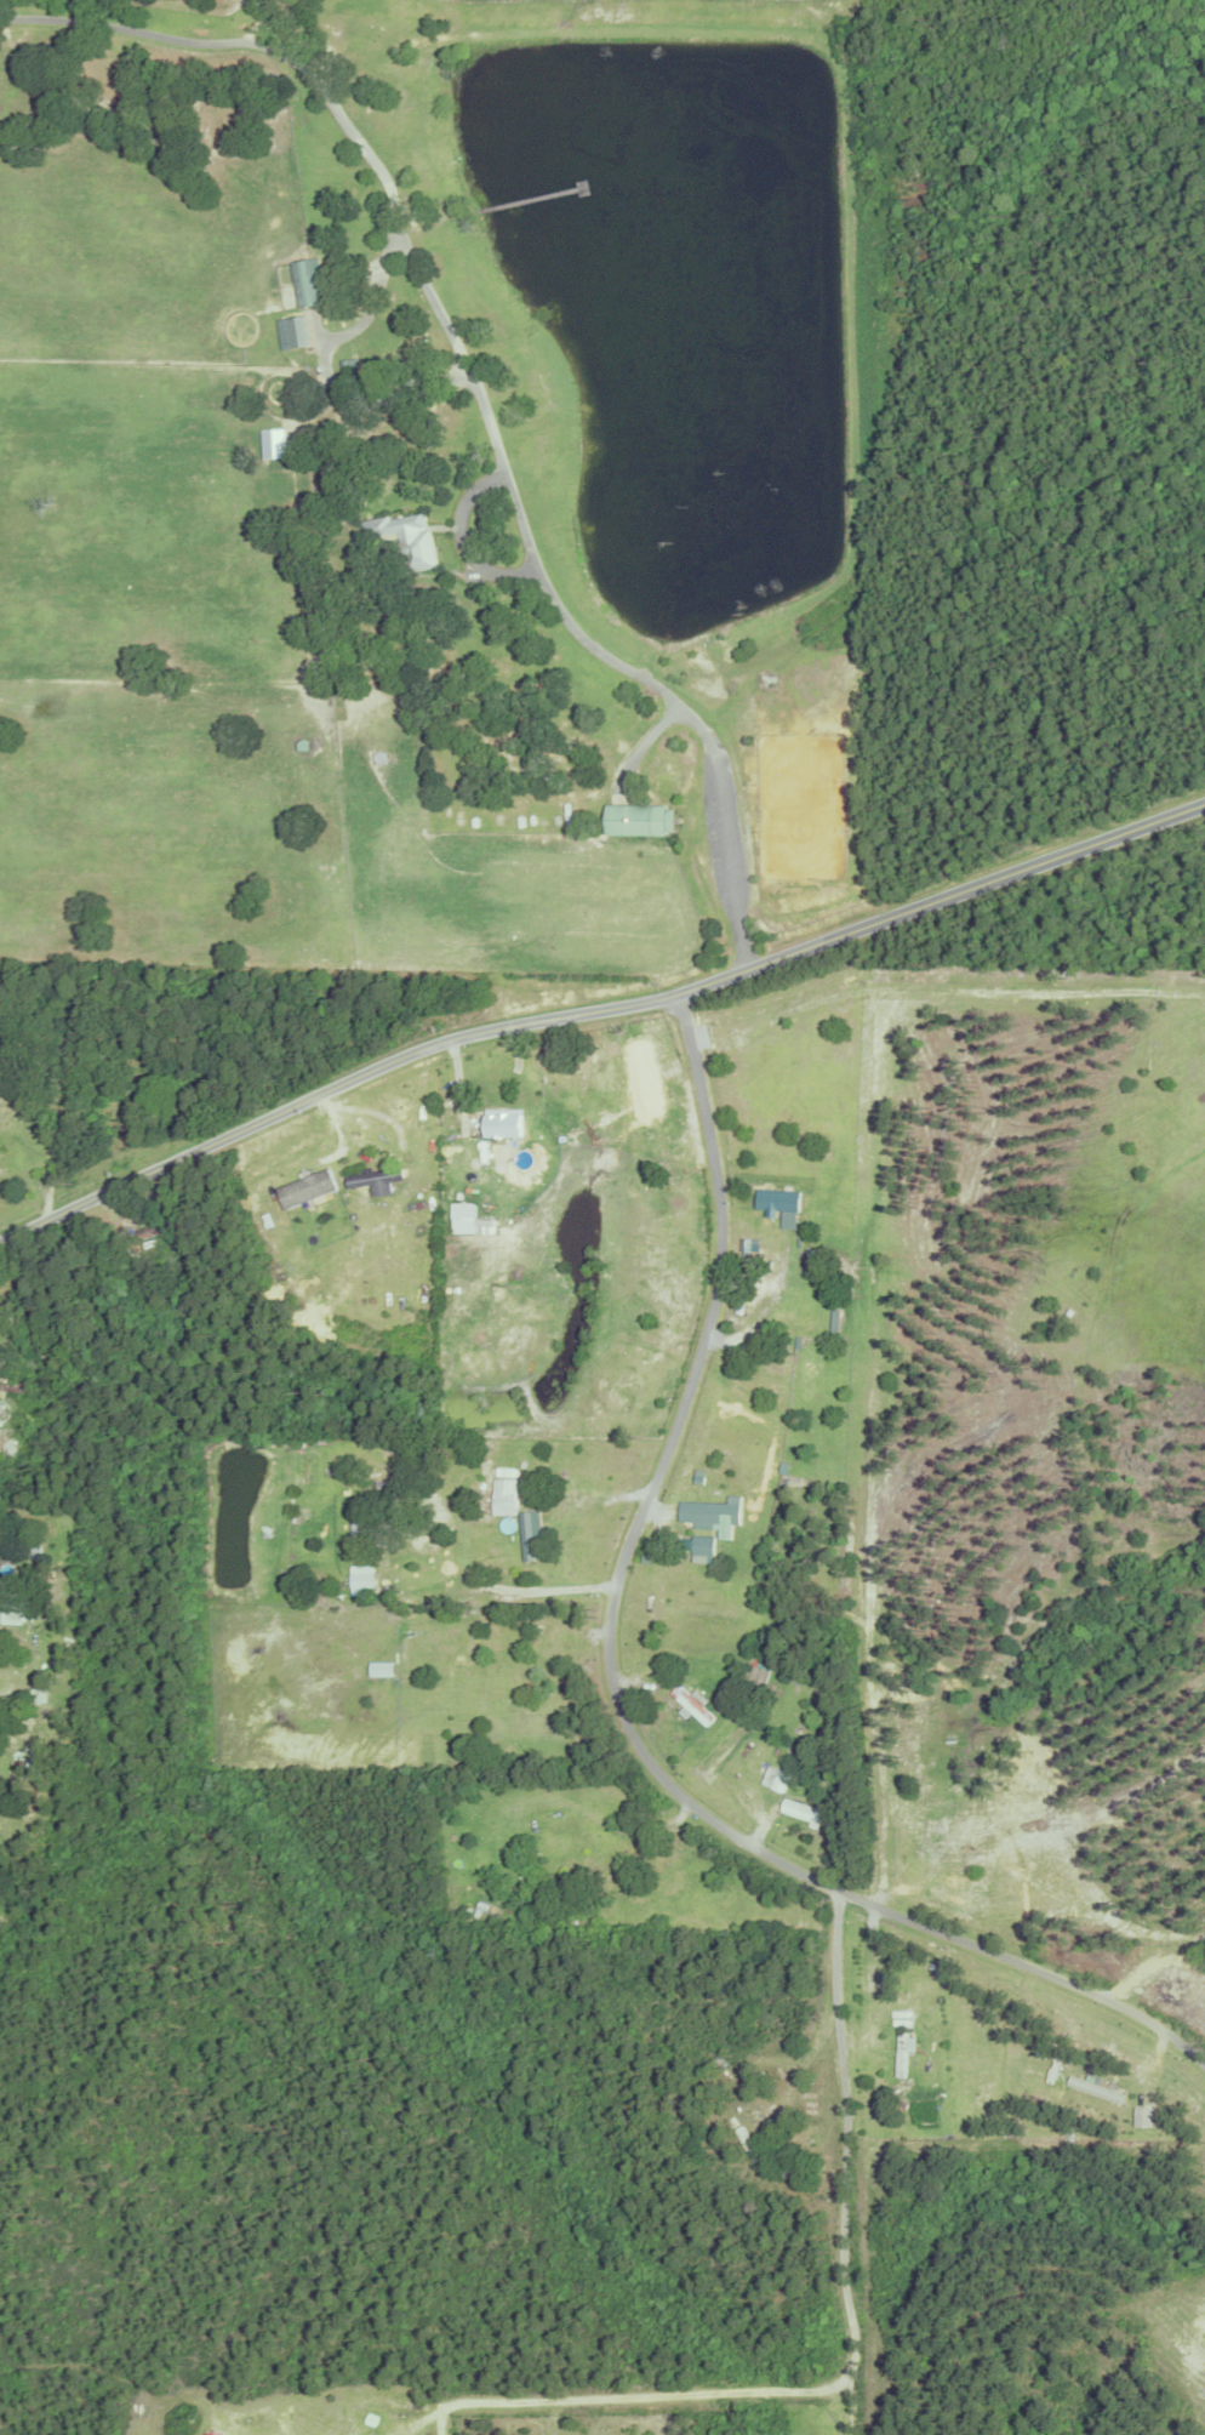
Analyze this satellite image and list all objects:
road: (262, 24)
building: (312, 280)
building: (296, 331)
building: (348, 361)
road: (475, 388)
building: (406, 537)
building: (639, 820)
road: (598, 1015)
building: (4, 1071)
building: (69, 1079)
building: (97, 1094)
building: (502, 1124)
building: (375, 1179)
building: (307, 1190)
building: (782, 1207)
building: (462, 1215)
building: (160, 1225)
building: (816, 1265)
building: (781, 1296)
building: (801, 1313)
building: (15, 1384)
building: (518, 1467)
building: (358, 1493)
building: (507, 1498)
building: (712, 1513)
building: (358, 1533)
building: (527, 1534)
building: (36, 1547)
building: (703, 1547)
building: (426, 1574)
building: (11, 1606)
building: (520, 1686)
road: (617, 1694)
building: (691, 1705)
building: (781, 1777)
building: (807, 1813)
building: (548, 1852)
building: (611, 1852)
building: (695, 1900)
building: (537, 1907)
road: (1148, 1962)
road: (873, 1966)
building: (900, 2055)
building: (1143, 2117)
building: (749, 2148)
road: (850, 2162)
road: (639, 2396)
building: (370, 2416)
building: (216, 2433)

